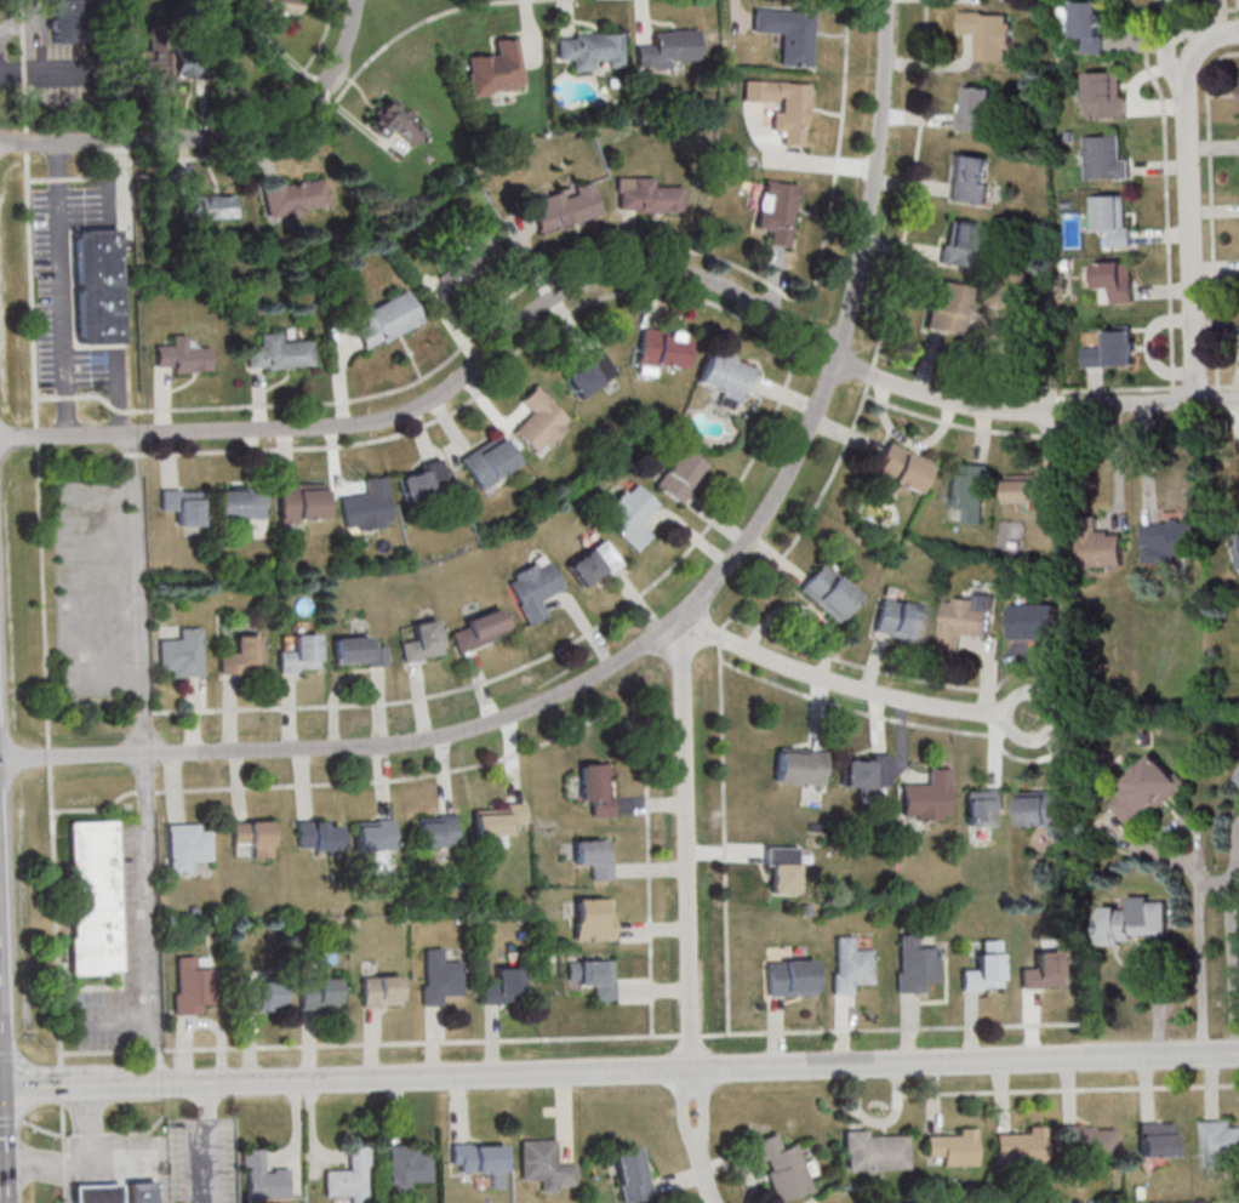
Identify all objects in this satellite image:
road: (22, 5)
building: (273, 8)
road: (1172, 15)
road: (1218, 18)
road: (23, 21)
building: (72, 21)
building: (1087, 27)
building: (788, 33)
building: (989, 34)
road: (1212, 40)
road: (1167, 41)
road: (1136, 44)
road: (24, 47)
building: (667, 47)
building: (589, 49)
building: (159, 51)
building: (187, 56)
building: (496, 68)
road: (24, 74)
road: (1137, 79)
building: (1106, 97)
road: (264, 98)
building: (782, 106)
road: (1157, 106)
road: (25, 107)
building: (977, 108)
building: (395, 122)
road: (312, 124)
road: (216, 138)
road: (27, 141)
road: (1212, 147)
road: (1164, 158)
building: (1106, 159)
road: (1160, 166)
road: (59, 177)
road: (39, 178)
building: (971, 178)
building: (647, 195)
building: (295, 196)
building: (206, 206)
building: (566, 206)
building: (776, 210)
road: (1209, 210)
road: (1214, 210)
building: (1112, 221)
road: (1189, 229)
road: (1163, 233)
building: (960, 243)
building: (467, 262)
road: (575, 266)
road: (1215, 268)
road: (611, 275)
building: (1118, 281)
building: (97, 285)
road: (32, 286)
road: (63, 290)
road: (1165, 291)
building: (946, 307)
building: (387, 319)
road: (1217, 326)
road: (880, 333)
road: (1148, 347)
building: (658, 348)
building: (280, 352)
building: (1113, 353)
building: (182, 355)
building: (586, 372)
building: (724, 377)
road: (1224, 384)
road: (1235, 386)
road: (1121, 388)
road: (1095, 390)
road: (46, 395)
road: (67, 395)
road: (1234, 415)
building: (539, 420)
road: (815, 420)
road: (954, 423)
road: (981, 431)
road: (845, 432)
road: (36, 435)
road: (1049, 437)
road: (907, 440)
road: (761, 441)
road: (130, 454)
road: (119, 455)
building: (487, 460)
road: (1146, 462)
road: (1115, 464)
building: (900, 472)
building: (679, 474)
building: (421, 479)
building: (1034, 489)
building: (970, 491)
building: (301, 501)
building: (239, 502)
building: (183, 504)
building: (366, 506)
building: (628, 514)
building: (1169, 542)
building: (1097, 545)
road: (775, 559)
building: (590, 563)
building: (532, 589)
road: (138, 594)
building: (828, 594)
road: (44, 597)
road: (806, 611)
building: (967, 620)
building: (900, 621)
building: (1035, 622)
building: (478, 629)
building: (421, 640)
building: (356, 651)
building: (181, 654)
building: (299, 654)
building: (240, 656)
road: (1035, 660)
road: (866, 666)
road: (873, 666)
road: (987, 667)
road: (835, 684)
road: (820, 714)
road: (1055, 715)
road: (890, 718)
road: (879, 724)
road: (354, 747)
road: (995, 749)
road: (50, 756)
road: (1057, 759)
building: (798, 769)
building: (863, 774)
road: (407, 777)
building: (1237, 779)
building: (1147, 788)
building: (594, 789)
road: (148, 791)
road: (646, 792)
building: (926, 798)
road: (651, 805)
building: (983, 808)
road: (97, 810)
building: (1045, 810)
building: (499, 821)
road: (1184, 825)
road: (724, 829)
building: (435, 831)
building: (373, 834)
building: (316, 836)
building: (252, 837)
road: (1238, 842)
building: (187, 846)
road: (723, 851)
building: (593, 857)
building: (780, 867)
road: (652, 868)
road: (1212, 882)
building: (93, 897)
road: (1197, 907)
building: (803, 908)
road: (55, 914)
road: (152, 917)
building: (592, 920)
building: (1131, 920)
road: (655, 930)
road: (690, 936)
road: (650, 948)
road: (1232, 953)
building: (849, 964)
building: (914, 964)
building: (983, 968)
building: (1041, 970)
building: (592, 975)
building: (438, 976)
building: (788, 977)
building: (192, 986)
building: (502, 987)
building: (379, 991)
road: (655, 991)
building: (318, 992)
building: (261, 996)
road: (1158, 998)
road: (1032, 1025)
road: (971, 1026)
road: (889, 1030)
road: (908, 1030)
road: (843, 1031)
road: (775, 1033)
road: (692, 1036)
road: (422, 1043)
road: (154, 1050)
road: (103, 1051)
road: (965, 1057)
road: (691, 1068)
road: (486, 1072)
road: (141, 1082)
road: (61, 1083)
road: (1144, 1084)
road: (1210, 1084)
road: (1069, 1085)
road: (1068, 1090)
road: (1001, 1093)
road: (853, 1094)
road: (932, 1094)
road: (457, 1105)
road: (897, 1108)
road: (565, 1113)
road: (11, 1119)
road: (87, 1125)
road: (63, 1127)
road: (296, 1127)
road: (312, 1129)
road: (51, 1133)
road: (137, 1133)
road: (93, 1134)
building: (1154, 1139)
road: (209, 1141)
building: (1218, 1142)
building: (1085, 1144)
building: (1018, 1146)
building: (949, 1148)
building: (873, 1151)
building: (478, 1156)
road: (727, 1161)
building: (543, 1163)
road: (58, 1165)
building: (405, 1165)
road: (65, 1168)
building: (784, 1169)
building: (629, 1174)
road: (703, 1174)
building: (349, 1175)
building: (262, 1178)
road: (748, 1178)
road: (680, 1180)
building: (113, 1191)
road: (65, 1193)

